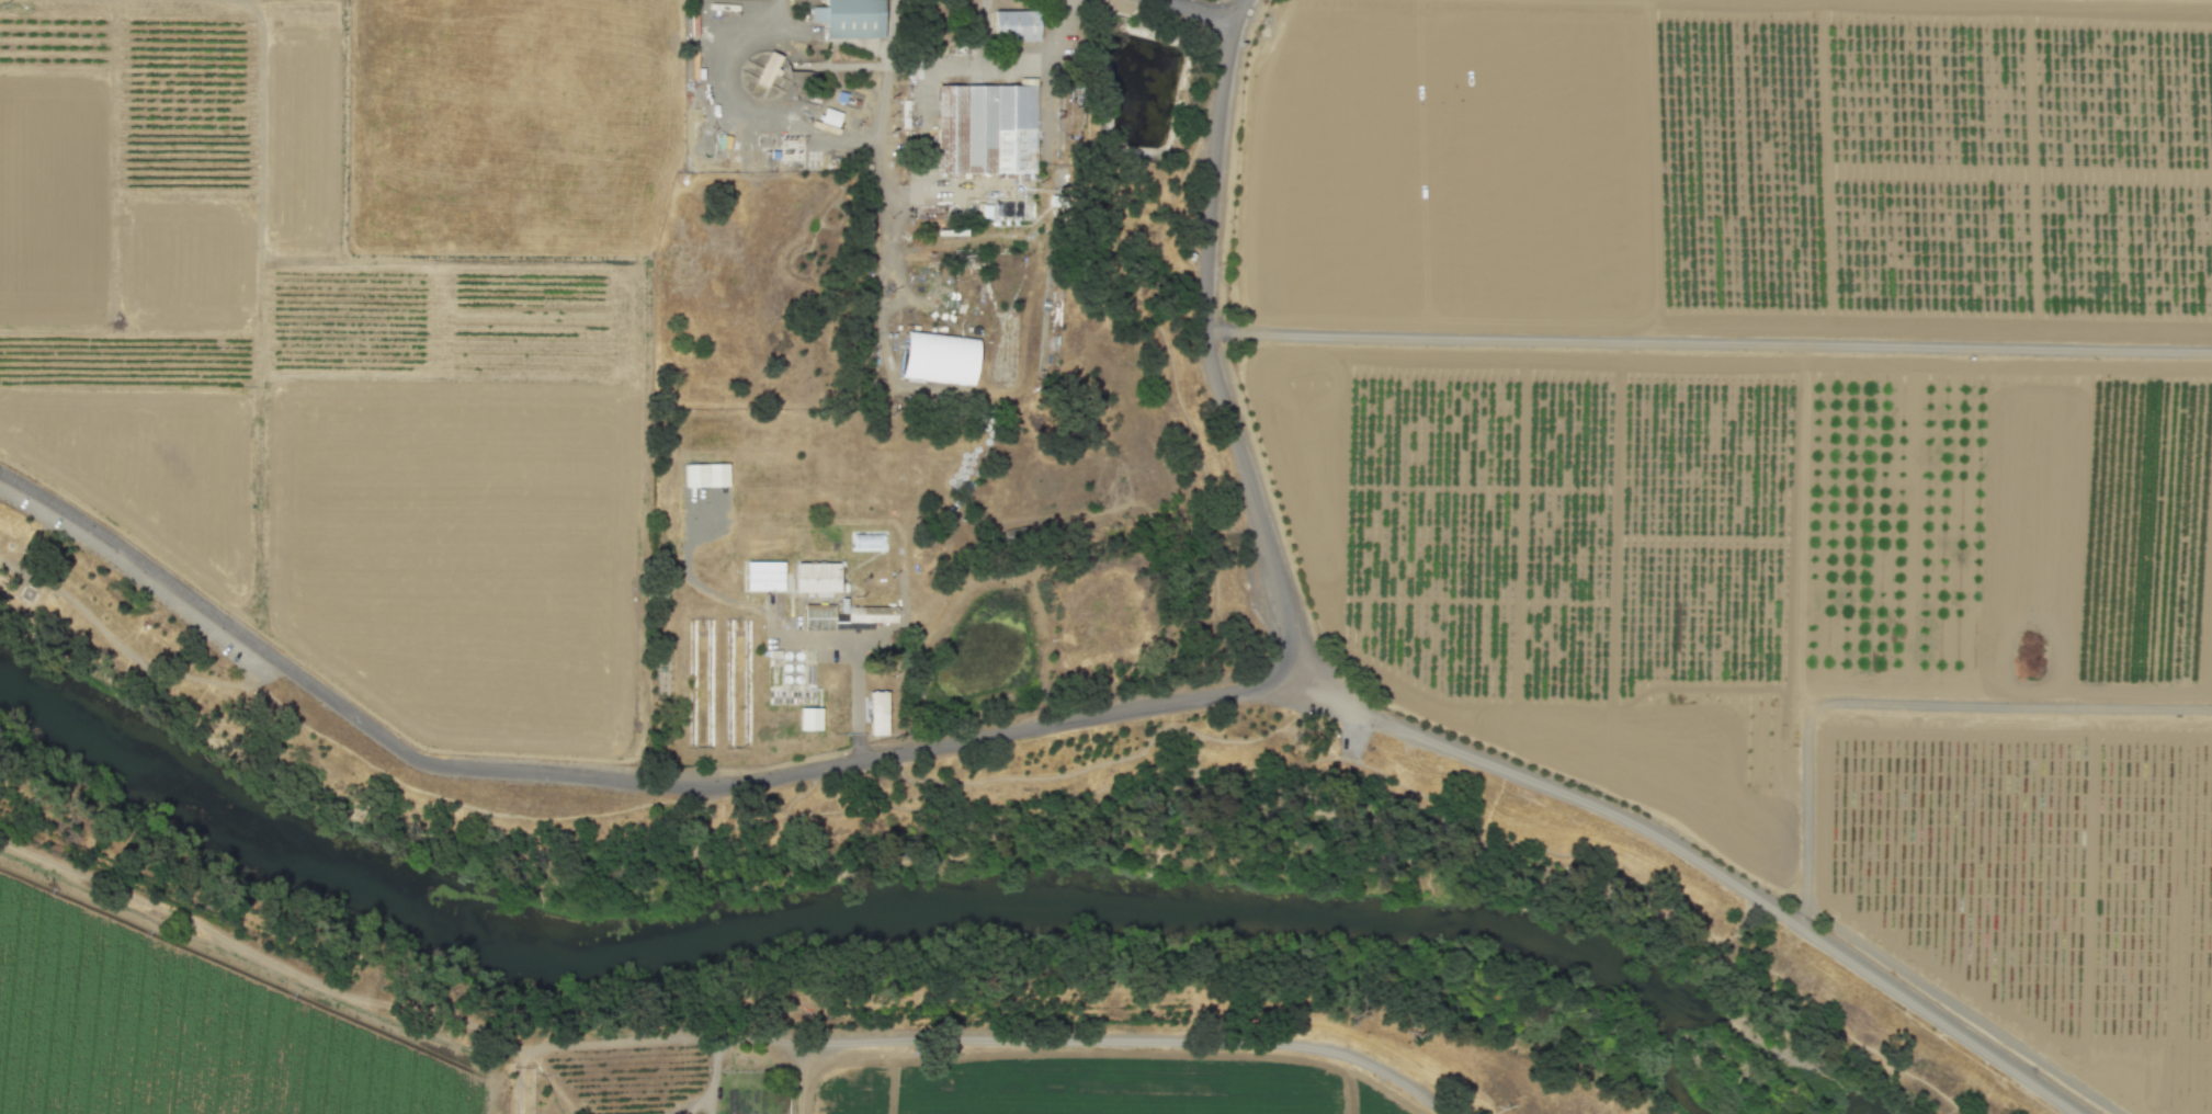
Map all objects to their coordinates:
road: (1210, 8)
building: (853, 19)
building: (1016, 29)
road: (1011, 61)
building: (771, 71)
building: (830, 116)
road: (808, 126)
building: (987, 128)
airport: (499, 132)
road: (1203, 331)
road: (1706, 341)
building: (940, 360)
crop: (1786, 445)
building: (871, 543)
road: (5, 570)
building: (767, 577)
building: (819, 579)
building: (874, 615)
building: (821, 619)
road: (219, 683)
road: (1902, 702)
road: (858, 704)
building: (881, 714)
parking lot: (1349, 738)
road: (611, 781)
road: (1206, 789)
road: (807, 792)
river: (265, 834)
road: (1694, 859)
road: (640, 867)
road: (541, 874)
road: (1677, 900)
river: (1179, 920)
road: (716, 1037)
road: (714, 1076)
road: (518, 1077)

